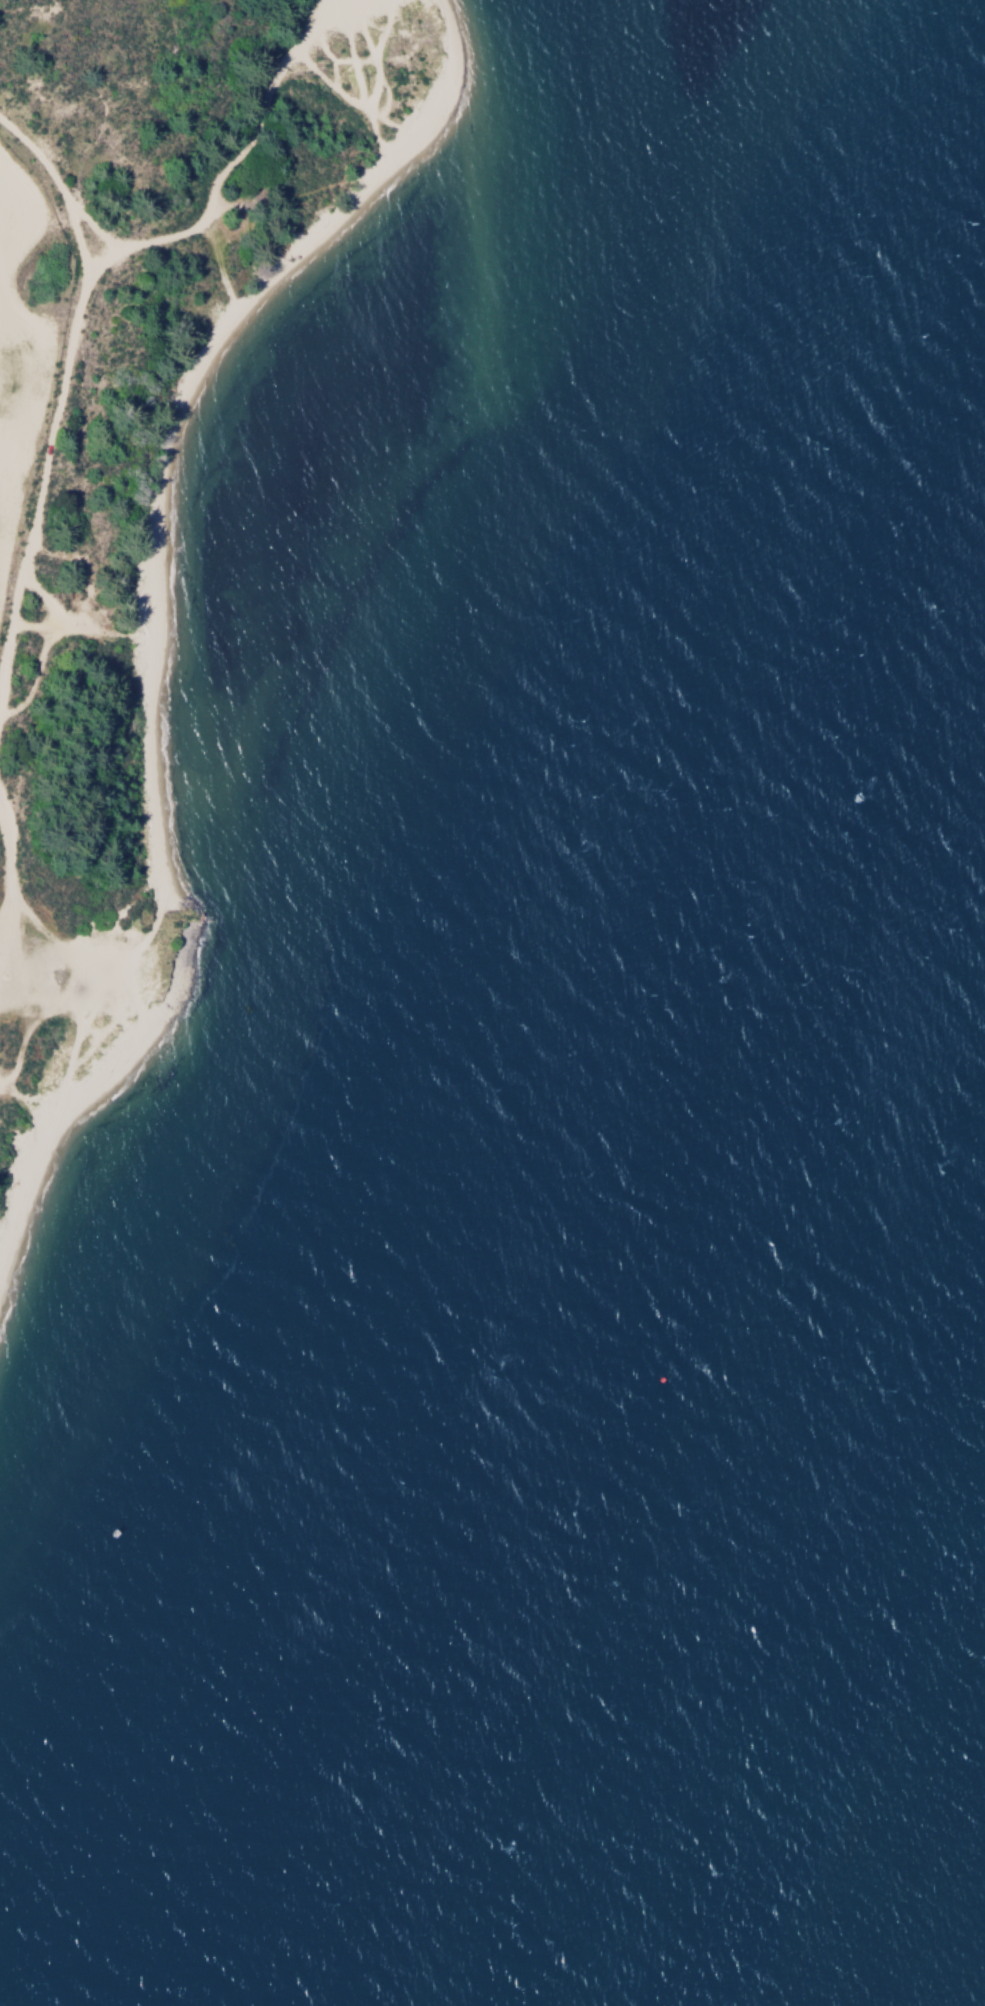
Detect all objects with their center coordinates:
road: (221, 176)
road: (51, 375)
river: (768, 1546)

